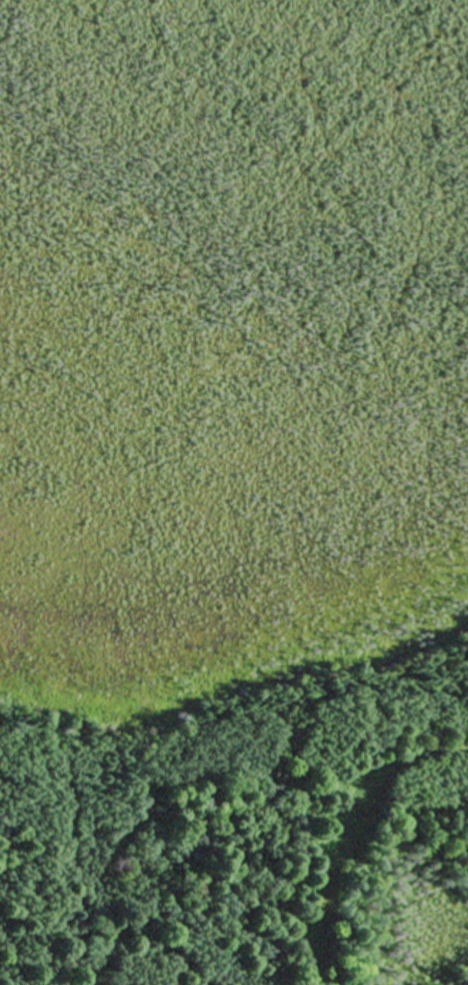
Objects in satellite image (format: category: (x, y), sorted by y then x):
road: (388, 864)

